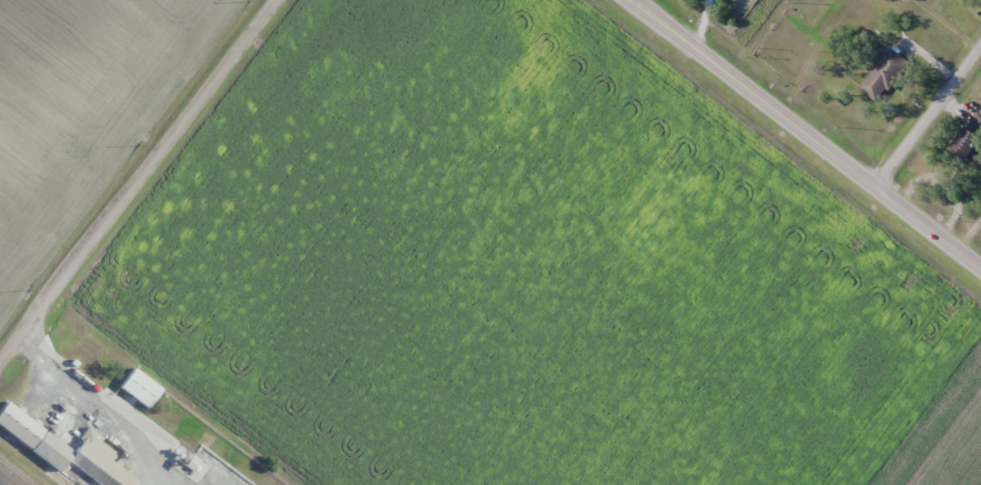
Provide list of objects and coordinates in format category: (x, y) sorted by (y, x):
building: (889, 77)
crop: (83, 109)
road: (929, 117)
road: (807, 132)
building: (970, 144)
road: (139, 180)
crop: (528, 272)
road: (63, 365)
building: (144, 390)
building: (21, 428)
railway: (13, 474)
railway: (63, 478)
railway: (5, 481)
road: (1, 483)

